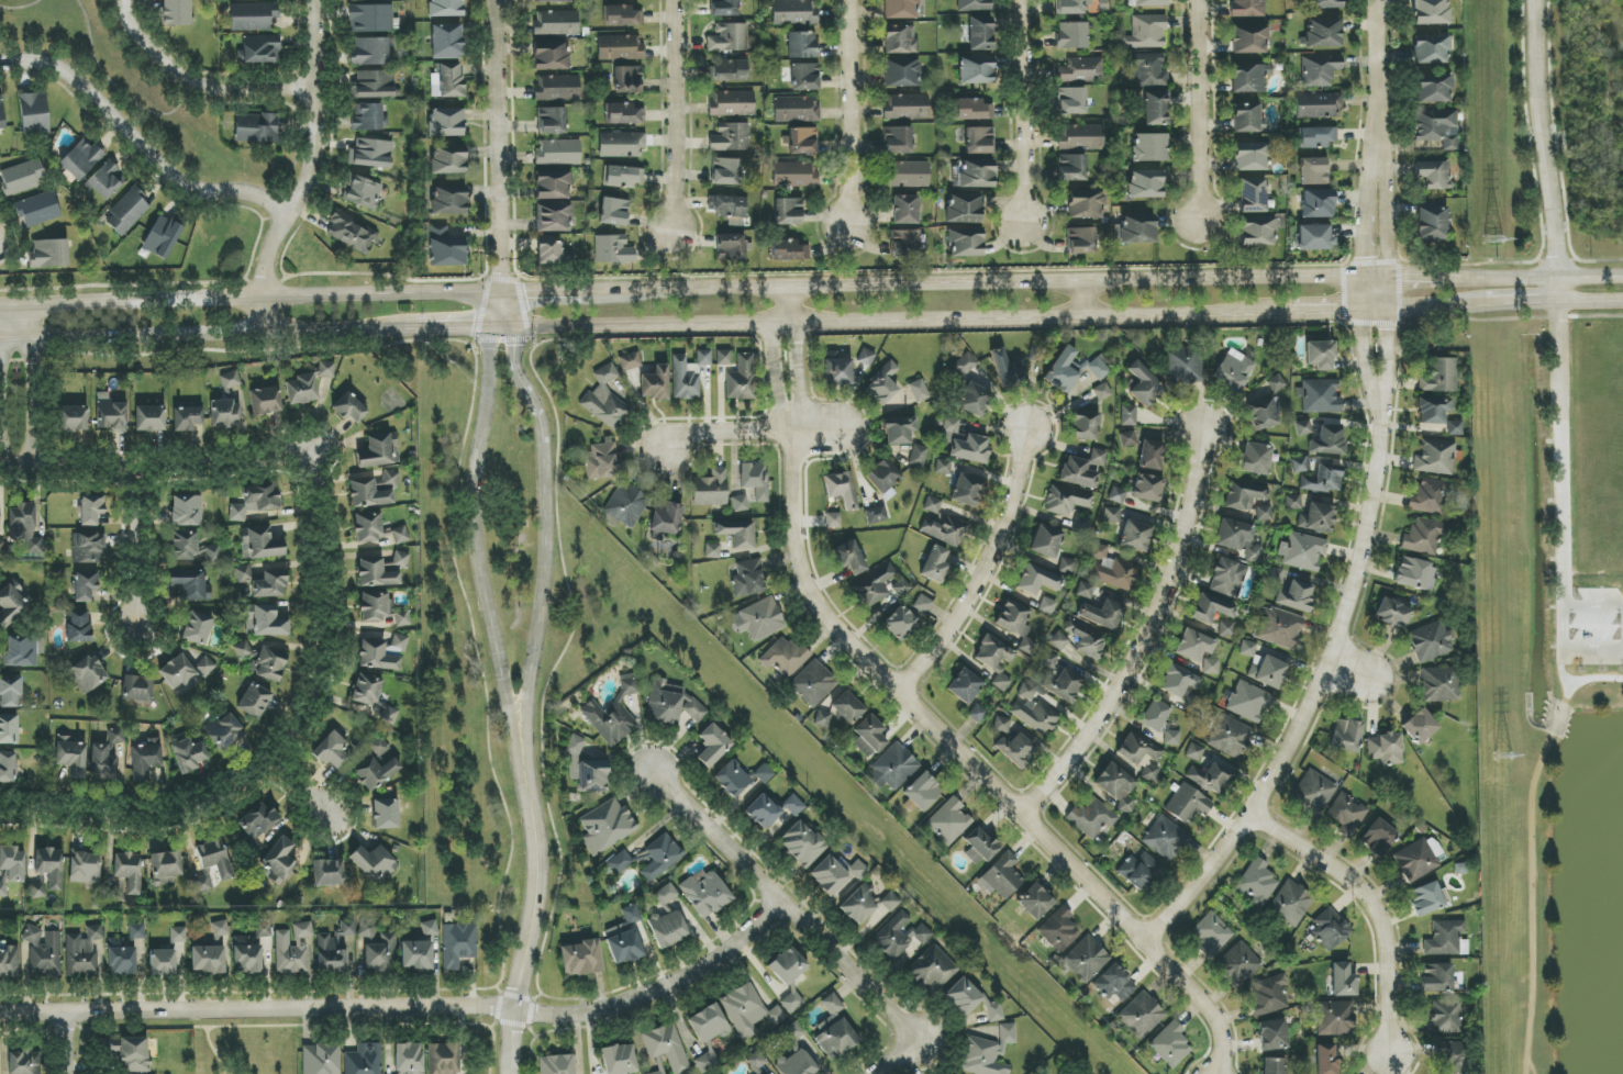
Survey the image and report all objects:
building: (357, 0)
building: (551, 1)
building: (1147, 3)
building: (1323, 3)
building: (974, 5)
building: (1071, 7)
building: (445, 8)
building: (724, 8)
building: (1247, 8)
road: (21, 9)
building: (900, 9)
building: (794, 12)
building: (1430, 12)
building: (176, 13)
building: (622, 16)
building: (253, 18)
building: (370, 19)
building: (556, 23)
building: (1146, 32)
building: (980, 33)
building: (1323, 33)
building: (1072, 35)
building: (729, 37)
building: (900, 40)
building: (1248, 40)
building: (446, 42)
building: (802, 45)
building: (619, 48)
building: (260, 49)
building: (1430, 49)
building: (370, 52)
building: (551, 56)
building: (730, 70)
building: (976, 70)
building: (1081, 70)
building: (1148, 70)
building: (1319, 70)
building: (902, 72)
road: (1375, 76)
building: (804, 77)
building: (1249, 78)
building: (627, 79)
building: (447, 80)
building: (375, 85)
road: (193, 87)
road: (114, 88)
building: (557, 88)
building: (1433, 88)
building: (1071, 101)
building: (731, 103)
building: (1318, 105)
building: (905, 107)
building: (796, 109)
building: (1156, 109)
building: (974, 110)
road: (1197, 110)
road: (1023, 111)
road: (848, 113)
building: (34, 114)
building: (623, 114)
road: (671, 114)
building: (1, 116)
building: (367, 118)
building: (1247, 119)
building: (553, 121)
building: (446, 123)
building: (1437, 127)
building: (256, 128)
building: (731, 137)
building: (1079, 137)
building: (1316, 137)
building: (802, 141)
building: (898, 141)
building: (979, 141)
road: (137, 145)
road: (499, 145)
building: (621, 145)
building: (1149, 147)
road: (1543, 150)
building: (558, 153)
building: (371, 154)
building: (1250, 156)
building: (81, 159)
building: (448, 160)
building: (1071, 167)
road: (307, 171)
building: (725, 171)
building: (1313, 171)
building: (972, 174)
building: (794, 175)
building: (907, 175)
building: (1431, 175)
building: (23, 177)
building: (623, 177)
building: (107, 180)
building: (1144, 183)
road: (1368, 183)
building: (553, 184)
building: (362, 192)
building: (1252, 195)
building: (1318, 203)
building: (1085, 204)
building: (964, 209)
building: (36, 210)
building: (730, 210)
building: (905, 210)
building: (788, 211)
building: (127, 212)
building: (614, 212)
building: (553, 217)
building: (1431, 224)
building: (1137, 230)
building: (1257, 232)
building: (351, 233)
building: (162, 237)
building: (1313, 237)
building: (1080, 240)
power tower: (1494, 240)
building: (903, 243)
building: (965, 243)
building: (730, 247)
building: (613, 250)
building: (788, 250)
building: (548, 251)
building: (447, 253)
building: (48, 254)
road: (1364, 262)
traffic signals: (503, 273)
road: (1408, 277)
road: (1537, 277)
road: (1387, 278)
road: (991, 284)
road: (560, 290)
traffic signals: (524, 292)
road: (251, 297)
road: (1085, 300)
road: (1589, 300)
road: (1518, 302)
road: (1433, 305)
road: (503, 309)
road: (1342, 311)
road: (899, 321)
road: (0, 325)
road: (38, 325)
road: (462, 326)
traffic signals: (471, 326)
road: (229, 335)
road: (19, 345)
traffic signals: (515, 346)
road: (796, 351)
road: (774, 353)
building: (1320, 355)
building: (866, 357)
building: (703, 358)
building: (723, 358)
road: (1365, 358)
building: (630, 361)
building: (965, 365)
building: (1183, 366)
building: (1072, 369)
building: (325, 370)
building: (836, 370)
building: (1007, 370)
building: (1233, 371)
building: (1438, 377)
building: (740, 379)
building: (230, 380)
building: (683, 380)
road: (523, 382)
building: (1276, 383)
building: (655, 384)
building: (882, 384)
building: (1144, 384)
building: (301, 390)
building: (919, 391)
building: (1101, 392)
building: (1320, 398)
building: (604, 400)
building: (974, 400)
building: (265, 401)
road: (1, 407)
road: (41, 407)
building: (349, 409)
building: (1432, 410)
building: (110, 413)
building: (225, 413)
building: (1261, 413)
building: (1127, 415)
building: (74, 418)
building: (149, 418)
building: (187, 418)
building: (1085, 425)
building: (1453, 428)
building: (899, 430)
road: (752, 433)
building: (1321, 438)
building: (1127, 439)
building: (963, 443)
building: (379, 451)
building: (1150, 455)
building: (919, 456)
building: (1434, 457)
building: (1255, 459)
building: (601, 460)
building: (1299, 465)
building: (943, 467)
building: (1082, 469)
road: (152, 476)
building: (882, 476)
road: (1559, 476)
building: (390, 478)
building: (1323, 479)
building: (754, 480)
building: (1147, 488)
building: (711, 489)
building: (841, 489)
building: (967, 491)
building: (368, 494)
building: (1116, 495)
building: (1243, 495)
building: (1429, 496)
building: (1066, 501)
building: (256, 502)
building: (743, 502)
building: (1292, 502)
building: (626, 505)
building: (932, 505)
building: (186, 507)
building: (91, 510)
building: (1264, 513)
building: (876, 515)
building: (1111, 515)
building: (1316, 517)
building: (665, 519)
building: (832, 519)
road: (474, 523)
building: (1081, 525)
building: (25, 526)
building: (376, 530)
building: (946, 530)
building: (736, 533)
building: (1135, 536)
building: (1422, 537)
building: (1237, 539)
building: (1046, 541)
building: (259, 544)
building: (191, 547)
building: (1, 548)
building: (87, 548)
road: (140, 549)
building: (712, 551)
building: (1302, 551)
building: (849, 558)
building: (400, 559)
building: (936, 564)
road: (982, 570)
building: (1107, 572)
building: (376, 573)
building: (1415, 574)
building: (1275, 575)
building: (1226, 578)
building: (747, 579)
building: (1037, 581)
building: (263, 582)
road: (543, 582)
building: (188, 583)
building: (85, 585)
building: (874, 585)
building: (901, 588)
building: (1296, 596)
building: (11, 604)
building: (923, 604)
building: (1047, 606)
building: (373, 607)
building: (1210, 608)
building: (1392, 613)
building: (1102, 614)
building: (402, 618)
building: (759, 619)
building: (268, 622)
building: (900, 623)
parking lot: (1586, 624)
building: (78, 626)
building: (197, 628)
building: (1278, 628)
building: (1225, 629)
road: (1142, 637)
building: (1086, 639)
building: (1058, 640)
building: (399, 641)
building: (1430, 641)
building: (1193, 646)
building: (1247, 649)
building: (23, 650)
building: (376, 657)
building: (785, 657)
building: (1047, 660)
building: (263, 661)
building: (996, 661)
building: (1211, 667)
building: (185, 669)
road: (1609, 671)
building: (1268, 672)
building: (88, 673)
road: (1349, 675)
building: (1177, 681)
building: (813, 684)
building: (1438, 684)
building: (965, 686)
building: (1061, 686)
building: (138, 689)
park: (1567, 691)
building: (10, 692)
road: (1312, 695)
building: (373, 698)
building: (254, 701)
building: (1187, 701)
building: (1248, 702)
building: (670, 704)
building: (840, 711)
building: (1033, 712)
building: (977, 714)
building: (1154, 715)
building: (612, 716)
building: (1002, 725)
building: (1420, 726)
building: (9, 729)
building: (224, 730)
building: (1346, 736)
building: (869, 737)
building: (1231, 737)
building: (1171, 738)
building: (576, 745)
building: (712, 745)
building: (1015, 749)
building: (1385, 749)
building: (332, 751)
building: (1194, 752)
building: (189, 754)
building: (1141, 756)
power tower: (1502, 757)
building: (71, 758)
road: (284, 758)
building: (145, 761)
building: (102, 762)
road: (970, 762)
building: (377, 765)
building: (7, 767)
building: (892, 768)
building: (764, 773)
building: (588, 774)
building: (1211, 777)
building: (732, 779)
building: (1115, 786)
building: (922, 792)
building: (1313, 792)
road: (299, 801)
building: (1188, 804)
building: (793, 805)
building: (763, 812)
building: (386, 814)
building: (1347, 814)
building: (259, 818)
building: (1093, 818)
building: (948, 821)
building: (607, 826)
building: (1165, 838)
building: (1378, 838)
building: (254, 841)
building: (801, 844)
building: (979, 846)
road: (1530, 850)
building: (281, 858)
building: (648, 859)
building: (1419, 859)
building: (13, 863)
building: (212, 864)
building: (374, 864)
building: (49, 866)
building: (85, 868)
building: (165, 868)
building: (1138, 870)
building: (129, 872)
building: (327, 872)
building: (1001, 876)
building: (837, 877)
building: (1256, 884)
building: (37, 890)
building: (705, 893)
building: (666, 895)
road: (534, 897)
building: (1425, 899)
building: (1034, 902)
building: (866, 904)
building: (1290, 904)
road: (1376, 905)
road: (779, 907)
building: (429, 928)
building: (667, 928)
building: (302, 930)
building: (1058, 930)
building: (1329, 930)
building: (136, 931)
building: (220, 932)
building: (178, 935)
building: (1211, 935)
building: (899, 937)
building: (625, 938)
building: (1446, 939)
building: (458, 944)
building: (333, 949)
building: (81, 951)
building: (253, 951)
building: (44, 952)
building: (289, 953)
building: (378, 954)
building: (416, 955)
building: (122, 956)
building: (581, 958)
building: (1085, 959)
building: (207, 960)
building: (162, 962)
building: (9, 963)
building: (1238, 964)
building: (787, 966)
building: (932, 970)
building: (1436, 977)
building: (1341, 981)
building: (1114, 984)
road: (657, 991)
building: (1268, 995)
building: (791, 1002)
building: (972, 1002)
building: (747, 1010)
road: (257, 1013)
building: (1141, 1015)
building: (1446, 1016)
building: (1334, 1018)
building: (708, 1025)
building: (834, 1030)
building: (793, 1031)
building: (1271, 1036)
road: (66, 1044)
building: (1171, 1045)
building: (666, 1048)
building: (1446, 1051)
building: (987, 1053)
building: (133, 1054)
building: (409, 1058)
building: (320, 1059)
building: (443, 1059)
building: (1326, 1059)
building: (364, 1060)
building: (619, 1060)
road: (893, 1060)
building: (24, 1061)
building: (756, 1061)
building: (707, 1062)
building: (557, 1064)
building: (796, 1064)
building: (1272, 1065)
road: (1528, 1069)
building: (659, 1072)
building: (401, 1073)
building: (953, 1073)

